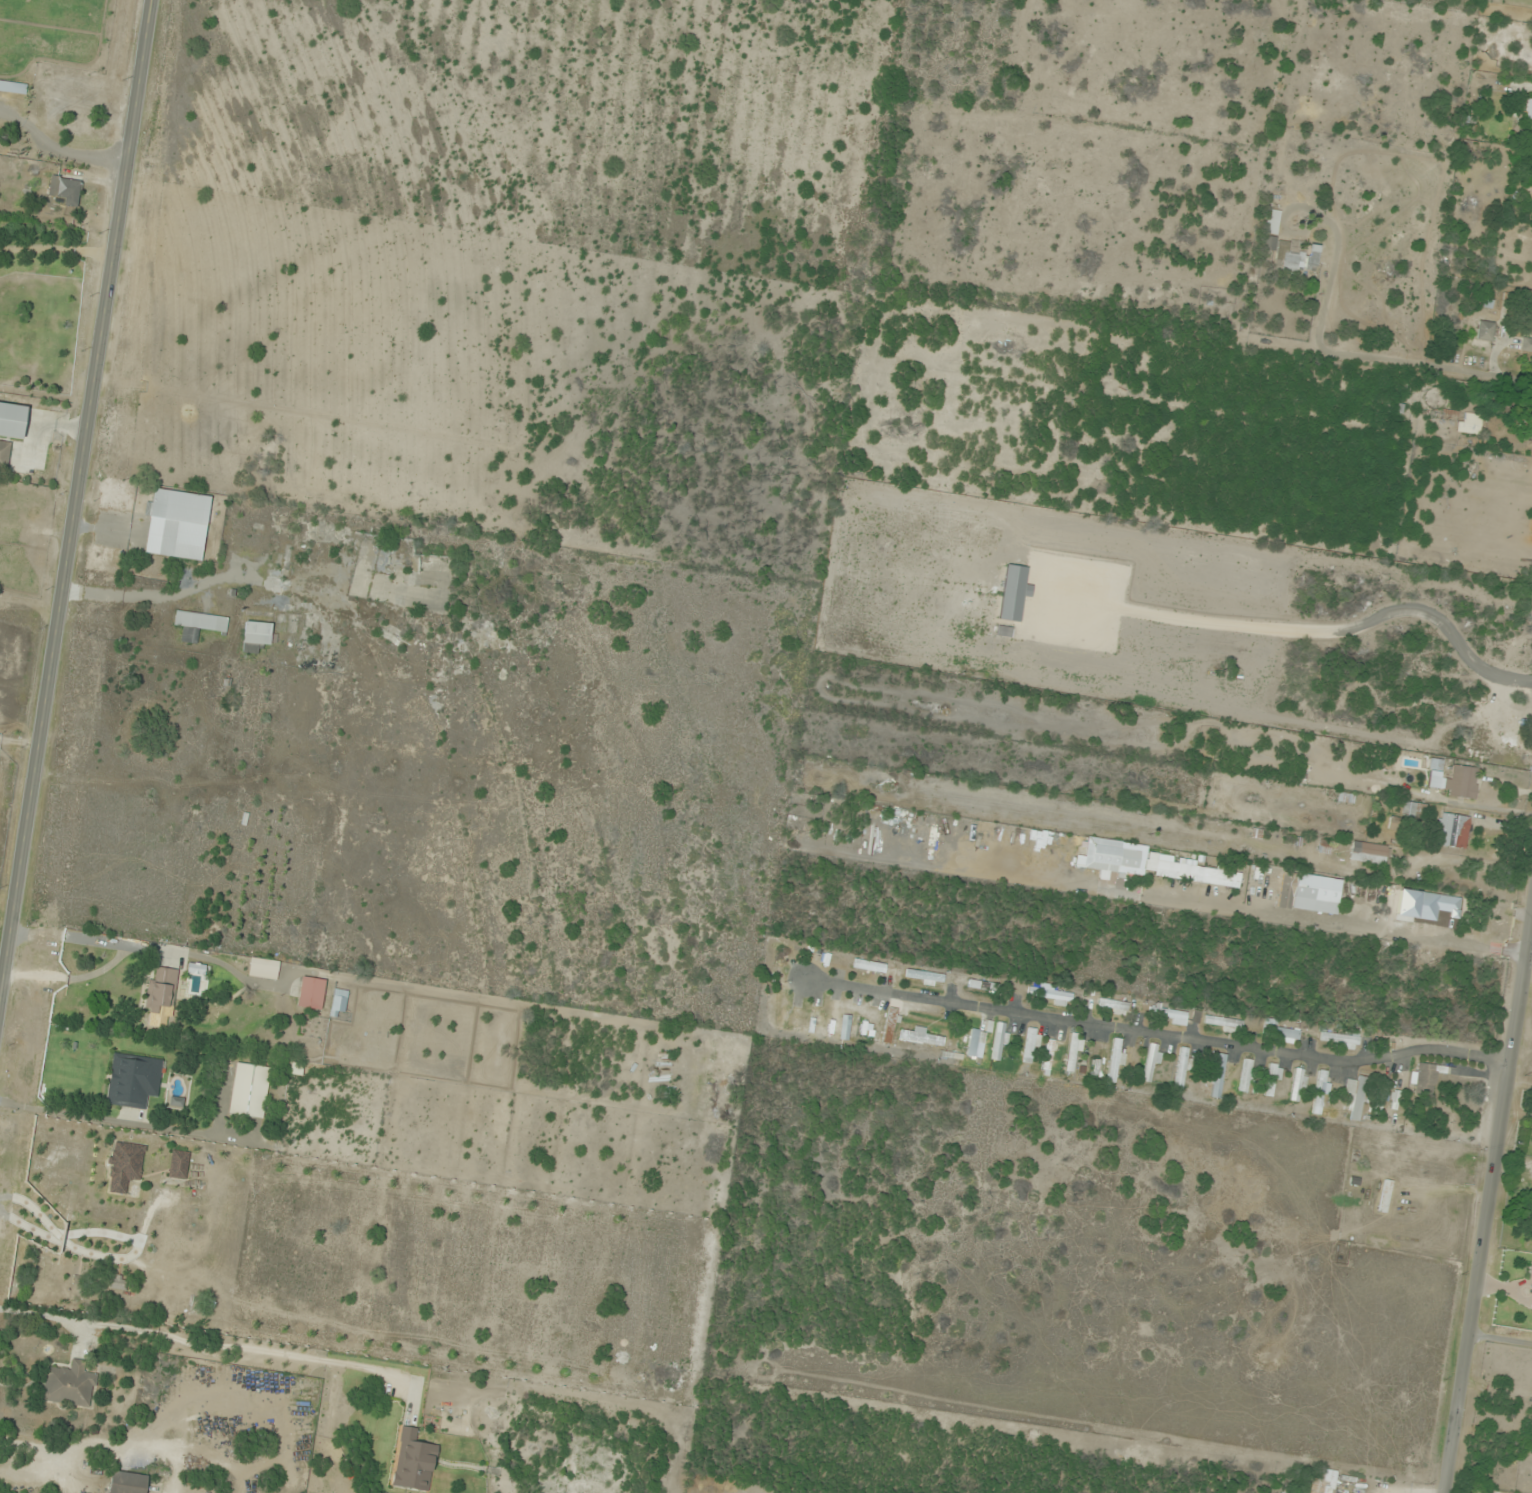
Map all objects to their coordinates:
building: (13, 88)
building: (77, 91)
building: (1529, 118)
building: (66, 189)
building: (1271, 223)
building: (1294, 258)
building: (1485, 331)
building: (1526, 345)
building: (12, 420)
building: (1461, 421)
building: (1531, 424)
building: (4, 456)
building: (177, 525)
road: (79, 535)
building: (9, 563)
building: (200, 626)
building: (256, 636)
building: (1504, 734)
building: (1462, 783)
building: (1397, 825)
building: (1454, 831)
building: (1368, 853)
building: (1115, 857)
building: (1197, 873)
building: (1309, 895)
building: (1444, 904)
building: (870, 966)
building: (263, 969)
building: (982, 986)
building: (161, 992)
building: (311, 993)
building: (1050, 996)
building: (338, 1004)
building: (1113, 1006)
building: (1168, 1015)
building: (1223, 1023)
building: (889, 1027)
building: (1285, 1034)
building: (923, 1037)
building: (976, 1041)
building: (1339, 1041)
building: (999, 1042)
building: (1031, 1046)
building: (1115, 1061)
building: (1151, 1064)
building: (1098, 1067)
building: (1218, 1076)
building: (1247, 1076)
building: (1424, 1079)
building: (1272, 1080)
building: (133, 1081)
building: (1298, 1085)
building: (249, 1091)
building: (1320, 1093)
building: (1356, 1097)
building: (178, 1164)
building: (125, 1166)
building: (1385, 1196)
road: (1490, 1248)
building: (1530, 1271)
building: (189, 1308)
building: (69, 1385)
building: (414, 1461)
building: (126, 1483)
building: (1322, 1483)
building: (1292, 1492)

